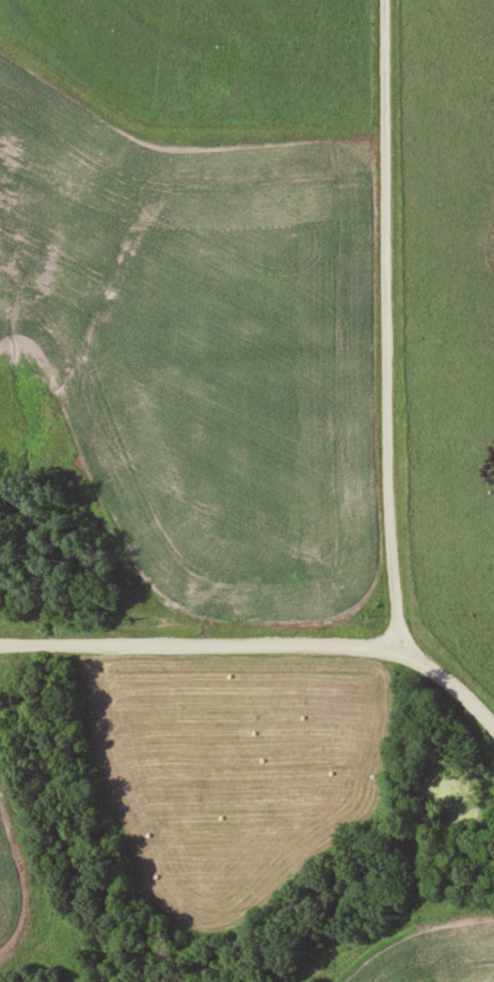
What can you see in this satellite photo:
road: (389, 327)
road: (205, 645)
road: (453, 685)

